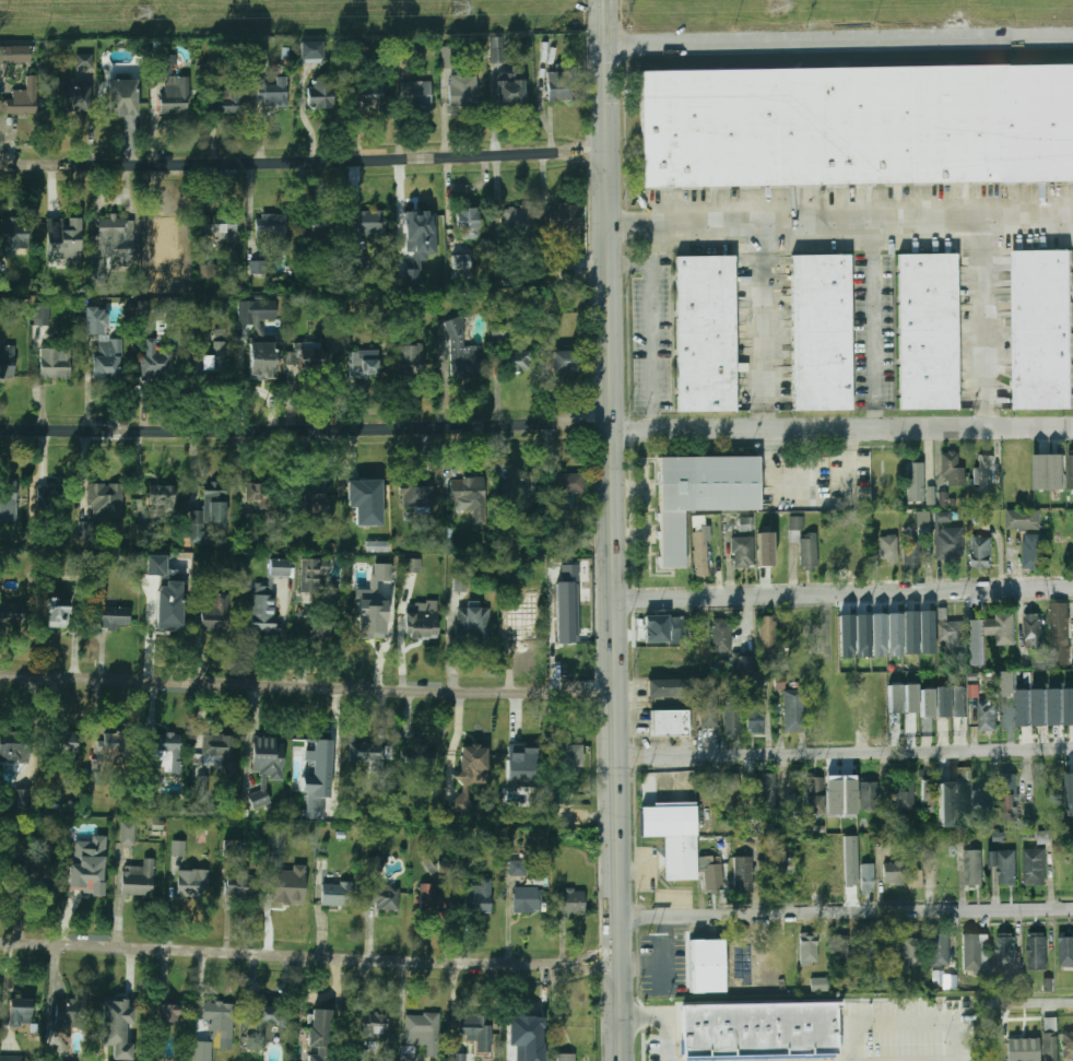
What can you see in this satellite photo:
power tower: (781, 7)
power tower: (459, 8)
power tower: (142, 14)
road: (838, 39)
building: (496, 48)
building: (311, 49)
building: (15, 54)
building: (259, 54)
building: (450, 56)
building: (83, 61)
building: (167, 63)
building: (510, 86)
building: (559, 86)
building: (463, 91)
building: (272, 92)
building: (322, 92)
building: (415, 94)
building: (175, 95)
building: (369, 95)
building: (122, 97)
building: (22, 98)
building: (76, 98)
building: (228, 99)
building: (858, 126)
road: (303, 163)
building: (515, 217)
building: (564, 219)
building: (468, 221)
building: (370, 222)
building: (320, 223)
road: (840, 224)
building: (163, 228)
building: (272, 228)
building: (222, 232)
building: (13, 236)
building: (114, 236)
building: (63, 239)
building: (418, 241)
building: (362, 260)
building: (460, 261)
road: (630, 263)
building: (257, 267)
building: (256, 313)
building: (42, 314)
road: (766, 317)
road: (875, 317)
road: (986, 317)
building: (95, 320)
road: (652, 328)
building: (1043, 328)
building: (500, 330)
building: (823, 332)
building: (929, 332)
building: (706, 333)
building: (462, 351)
building: (216, 352)
building: (310, 355)
building: (107, 357)
building: (293, 357)
building: (409, 357)
building: (153, 359)
building: (262, 359)
building: (7, 361)
building: (518, 361)
building: (565, 361)
building: (54, 363)
building: (363, 364)
road: (844, 429)
road: (306, 432)
building: (951, 468)
building: (984, 469)
building: (1071, 470)
building: (1049, 471)
building: (915, 481)
building: (565, 491)
building: (45, 493)
building: (520, 493)
building: (161, 495)
building: (309, 495)
building: (701, 495)
building: (930, 495)
building: (416, 496)
building: (470, 497)
building: (942, 498)
building: (106, 499)
building: (264, 499)
building: (366, 500)
building: (8, 502)
building: (207, 512)
building: (1023, 518)
building: (923, 521)
building: (744, 523)
building: (247, 527)
building: (794, 527)
road: (615, 530)
building: (87, 531)
building: (948, 542)
building: (377, 546)
building: (764, 549)
building: (888, 549)
building: (700, 550)
building: (980, 551)
building: (1033, 551)
building: (743, 552)
building: (809, 553)
building: (858, 553)
building: (912, 553)
building: (1066, 553)
building: (830, 555)
building: (75, 564)
building: (156, 565)
building: (412, 565)
building: (280, 567)
building: (313, 573)
building: (173, 574)
building: (460, 582)
building: (331, 594)
road: (844, 594)
building: (373, 604)
building: (567, 604)
building: (263, 608)
building: (165, 609)
building: (58, 612)
building: (214, 612)
building: (12, 613)
building: (115, 618)
building: (422, 620)
building: (472, 621)
building: (655, 627)
building: (1000, 627)
building: (323, 628)
building: (521, 628)
building: (948, 629)
building: (1059, 629)
building: (679, 630)
building: (1033, 630)
building: (910, 632)
building: (927, 632)
road: (401, 633)
building: (894, 634)
building: (767, 635)
building: (879, 635)
building: (721, 636)
building: (846, 636)
building: (862, 636)
road: (389, 637)
building: (976, 641)
building: (744, 664)
building: (1007, 683)
road: (308, 688)
building: (688, 694)
building: (895, 698)
building: (911, 698)
building: (943, 702)
building: (959, 702)
building: (927, 703)
building: (1069, 705)
building: (1040, 706)
building: (1057, 706)
building: (1025, 707)
building: (793, 710)
building: (1006, 715)
building: (986, 716)
building: (754, 717)
building: (732, 718)
building: (895, 722)
building: (670, 723)
building: (67, 750)
building: (113, 750)
building: (14, 751)
building: (220, 751)
building: (372, 753)
road: (845, 753)
building: (166, 756)
building: (569, 756)
building: (418, 761)
building: (516, 762)
building: (266, 766)
building: (313, 771)
building: (470, 775)
building: (202, 789)
building: (730, 789)
building: (764, 789)
building: (1070, 792)
building: (882, 793)
building: (868, 794)
building: (928, 794)
building: (814, 795)
building: (844, 795)
building: (150, 797)
building: (950, 797)
building: (1010, 797)
building: (22, 799)
building: (904, 799)
building: (982, 801)
building: (157, 824)
building: (128, 833)
building: (1042, 836)
building: (672, 839)
building: (178, 847)
building: (275, 847)
building: (235, 849)
building: (518, 863)
building: (1003, 864)
building: (1034, 864)
building: (972, 867)
building: (83, 868)
building: (375, 868)
building: (778, 869)
building: (742, 873)
building: (893, 873)
building: (36, 874)
building: (866, 874)
building: (712, 876)
building: (138, 879)
building: (915, 879)
building: (0, 881)
building: (191, 883)
building: (239, 886)
building: (286, 889)
building: (334, 894)
building: (479, 896)
building: (384, 897)
building: (431, 898)
building: (527, 899)
building: (570, 900)
road: (846, 911)
building: (1005, 947)
building: (807, 948)
building: (838, 948)
building: (1036, 948)
building: (1066, 948)
building: (939, 950)
building: (911, 951)
building: (976, 951)
road: (309, 956)
road: (668, 963)
building: (703, 967)
building: (943, 977)
building: (1015, 983)
building: (1047, 983)
building: (820, 985)
road: (1037, 1000)
building: (20, 1012)
building: (70, 1013)
building: (168, 1013)
building: (215, 1023)
building: (760, 1023)
building: (263, 1025)
building: (117, 1026)
building: (374, 1027)
road: (662, 1027)
building: (576, 1028)
building: (476, 1031)
building: (421, 1034)
building: (319, 1035)
building: (522, 1036)
building: (1035, 1045)
building: (1068, 1045)
building: (202, 1051)
parking lot: (821, 1052)
building: (355, 1053)
building: (459, 1057)
building: (566, 1057)
building: (10, 1058)

